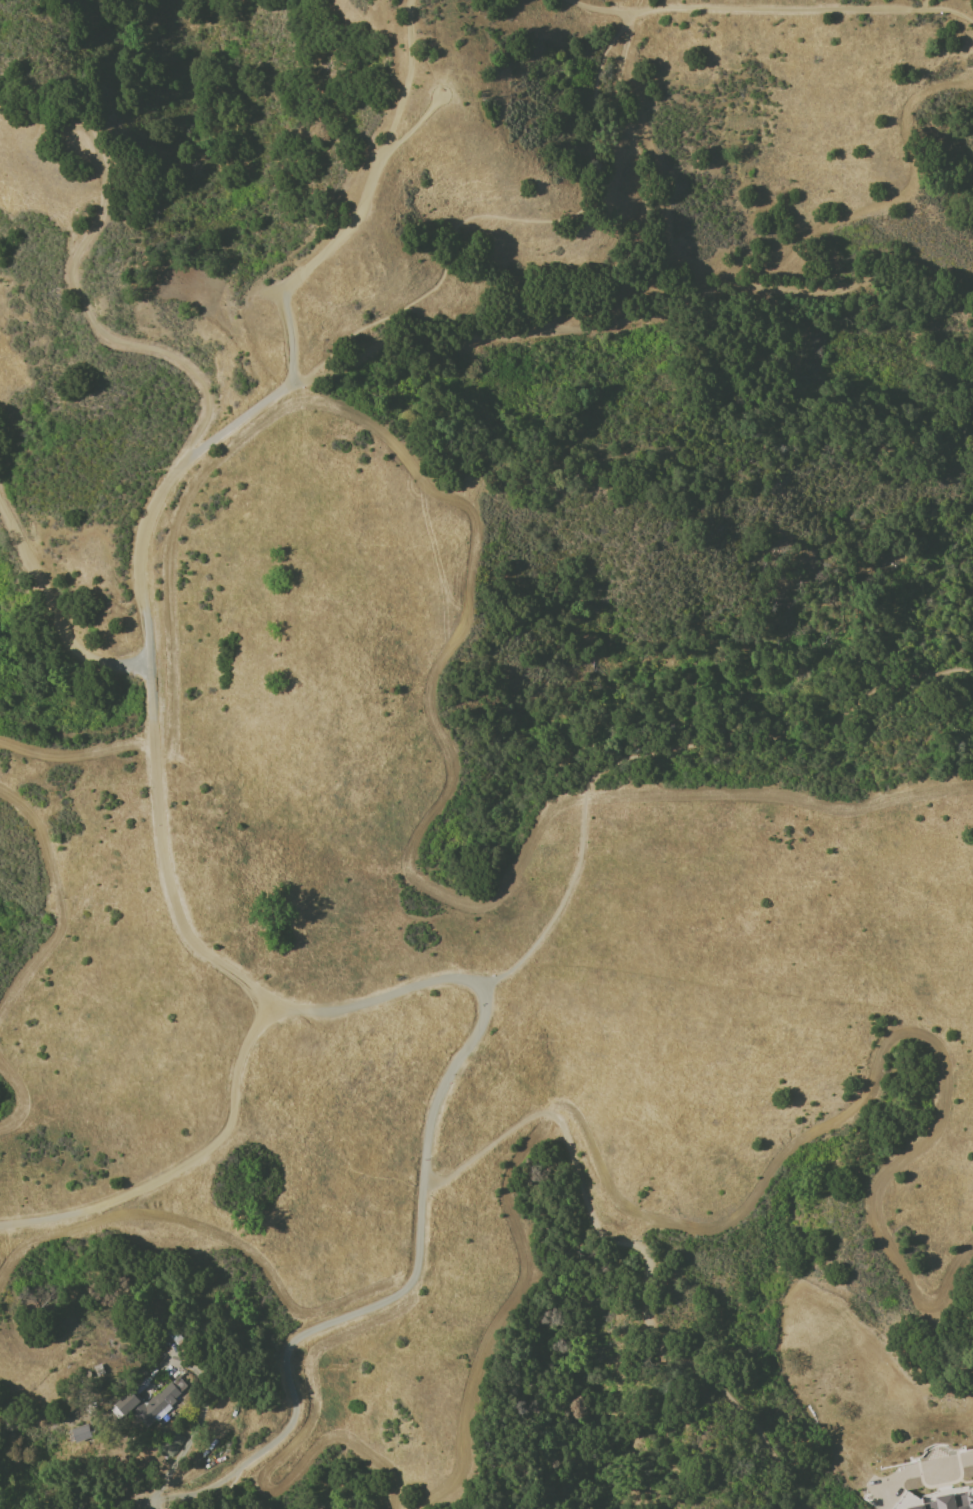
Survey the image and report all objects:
road: (922, 4)
road: (593, 8)
road: (783, 8)
road: (414, 125)
road: (362, 203)
road: (641, 210)
road: (502, 219)
road: (647, 315)
road: (99, 328)
road: (307, 377)
road: (53, 608)
road: (149, 683)
road: (662, 750)
road: (477, 986)
road: (181, 1165)
road: (638, 1246)
road: (288, 1348)
building: (145, 1404)
road: (200, 1421)
building: (79, 1434)
road: (968, 1459)
road: (230, 1485)
building: (903, 1503)
building: (946, 1503)
road: (150, 1505)
road: (807, 1507)

